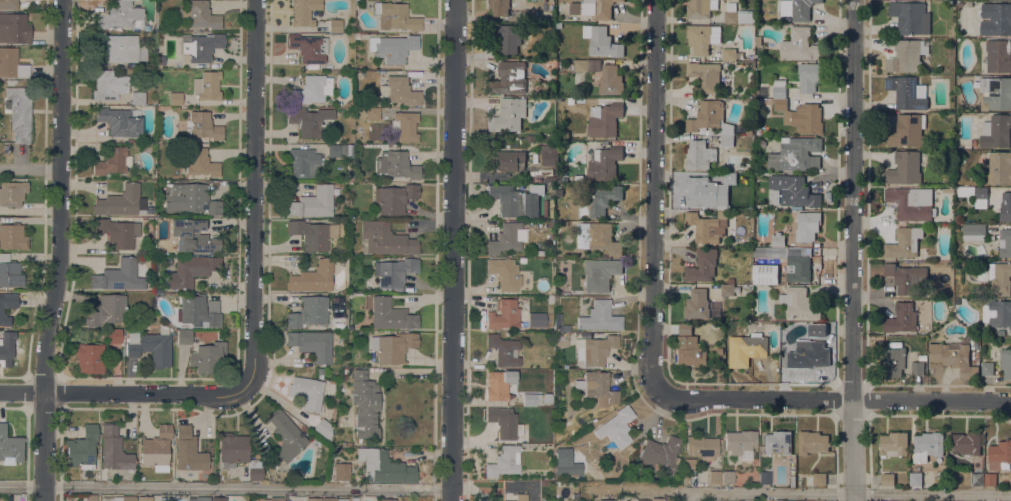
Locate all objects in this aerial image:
building: (8, 4)
building: (499, 7)
building: (701, 7)
building: (592, 8)
building: (797, 9)
building: (303, 12)
building: (738, 14)
building: (200, 15)
building: (529, 15)
building: (120, 16)
building: (395, 16)
building: (910, 17)
building: (996, 18)
building: (335, 25)
building: (559, 25)
building: (14, 28)
building: (356, 36)
building: (506, 36)
building: (702, 37)
building: (758, 40)
building: (601, 41)
building: (800, 44)
building: (204, 46)
building: (118, 47)
building: (309, 47)
building: (392, 47)
building: (730, 52)
building: (907, 55)
building: (998, 55)
building: (160, 61)
building: (13, 64)
building: (587, 65)
building: (705, 75)
building: (809, 76)
building: (509, 78)
building: (610, 80)
building: (109, 85)
building: (207, 86)
building: (779, 88)
building: (311, 90)
building: (398, 90)
building: (996, 91)
building: (907, 92)
building: (137, 97)
building: (175, 98)
building: (19, 112)
building: (372, 114)
building: (509, 114)
building: (706, 115)
building: (801, 116)
building: (604, 119)
building: (309, 120)
building: (120, 121)
building: (202, 125)
building: (405, 125)
building: (907, 131)
building: (996, 131)
building: (727, 133)
building: (148, 142)
building: (340, 150)
building: (795, 153)
building: (549, 154)
building: (699, 154)
building: (113, 160)
building: (507, 160)
building: (199, 162)
building: (604, 162)
building: (303, 163)
building: (396, 165)
building: (999, 167)
road: (30, 168)
building: (904, 168)
building: (551, 178)
building: (729, 178)
building: (948, 189)
building: (794, 190)
building: (701, 191)
building: (12, 193)
building: (975, 194)
road: (654, 196)
road: (255, 197)
building: (394, 198)
building: (192, 199)
building: (509, 199)
building: (121, 201)
building: (599, 201)
building: (313, 202)
building: (912, 203)
building: (1006, 206)
building: (807, 225)
building: (708, 226)
building: (117, 232)
building: (973, 232)
building: (313, 234)
building: (12, 236)
building: (193, 236)
building: (601, 237)
building: (507, 238)
building: (386, 239)
building: (778, 239)
building: (904, 242)
building: (1005, 242)
road: (61, 250)
road: (455, 250)
road: (853, 250)
building: (769, 251)
building: (799, 263)
building: (703, 265)
building: (190, 270)
building: (10, 272)
building: (394, 272)
building: (504, 273)
building: (765, 273)
building: (600, 274)
building: (119, 275)
building: (906, 276)
building: (312, 277)
building: (1000, 278)
building: (731, 280)
building: (728, 289)
building: (798, 302)
building: (697, 303)
building: (7, 306)
building: (108, 310)
building: (199, 310)
building: (310, 312)
building: (997, 312)
building: (391, 314)
building: (504, 314)
building: (599, 316)
building: (901, 318)
building: (556, 329)
building: (819, 329)
building: (113, 335)
building: (184, 337)
building: (560, 339)
building: (312, 343)
building: (151, 345)
building: (392, 346)
building: (749, 347)
building: (689, 348)
building: (504, 349)
building: (594, 349)
building: (719, 350)
building: (5, 353)
building: (808, 355)
building: (206, 356)
building: (90, 357)
building: (952, 357)
building: (894, 361)
building: (728, 362)
building: (1005, 362)
building: (917, 367)
building: (987, 367)
building: (320, 371)
building: (498, 384)
building: (598, 386)
building: (307, 392)
road: (127, 393)
building: (531, 397)
building: (547, 398)
road: (835, 400)
building: (364, 403)
road: (898, 415)
building: (504, 422)
building: (616, 427)
building: (323, 428)
building: (303, 429)
building: (286, 435)
building: (739, 441)
building: (812, 441)
building: (965, 442)
building: (777, 443)
building: (894, 443)
building: (928, 445)
building: (10, 447)
building: (701, 447)
building: (82, 448)
building: (156, 448)
building: (188, 450)
building: (115, 453)
building: (238, 453)
building: (660, 453)
building: (999, 455)
building: (563, 456)
building: (504, 461)
building: (384, 466)
building: (341, 471)
building: (715, 476)
building: (141, 477)
building: (728, 477)
building: (765, 477)
building: (819, 478)
building: (916, 478)
building: (977, 478)
building: (887, 479)
building: (990, 479)
road: (226, 487)
road: (840, 493)
building: (91, 497)
building: (176, 497)
building: (518, 497)
building: (128, 498)
building: (144, 498)
building: (166, 498)
building: (199, 498)
building: (218, 498)
building: (274, 498)
building: (107, 499)
building: (313, 499)
building: (333, 499)
building: (387, 499)
building: (657, 499)
building: (607, 500)
building: (644, 500)

